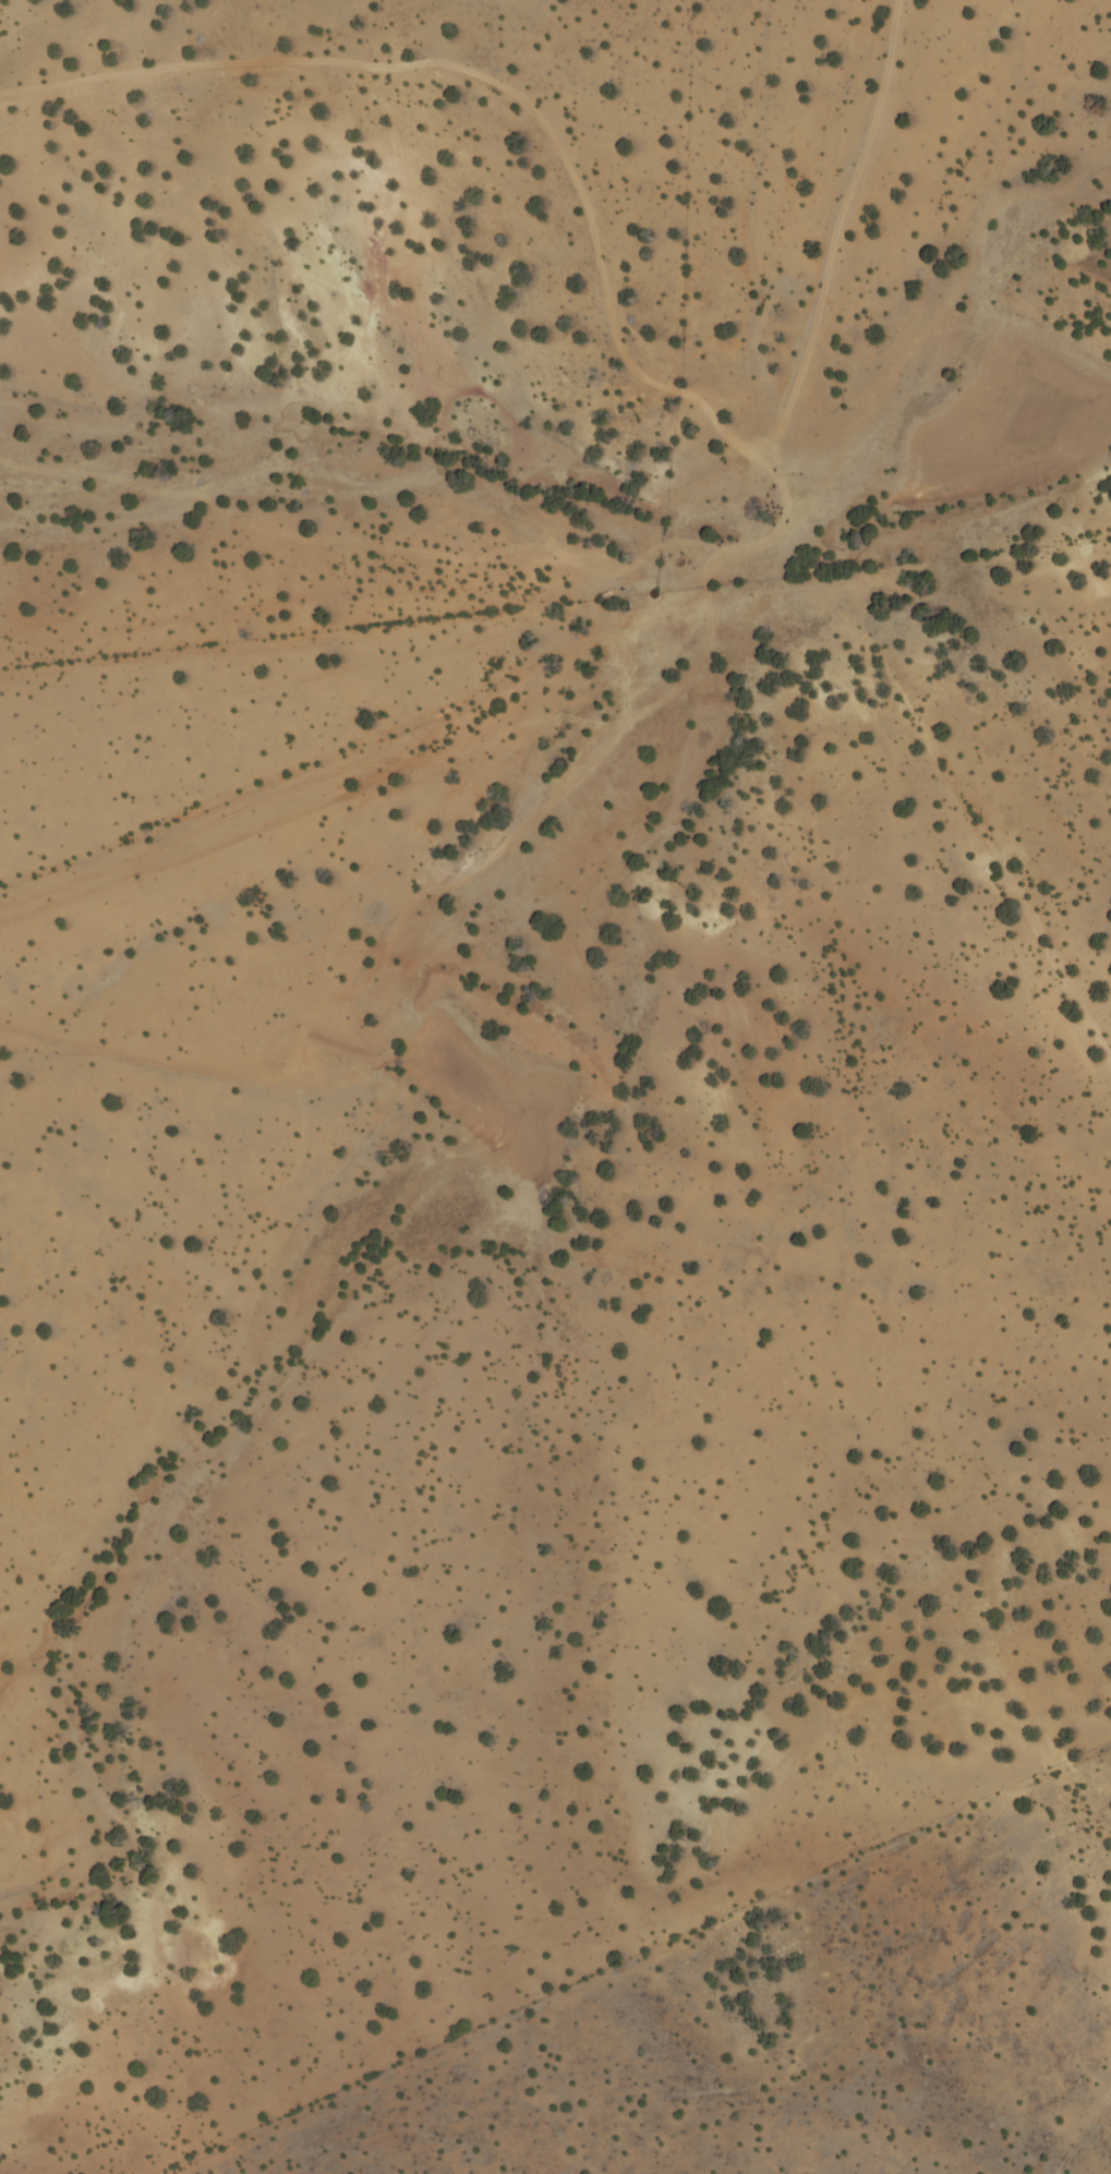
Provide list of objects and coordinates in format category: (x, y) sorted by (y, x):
road: (627, 615)
road: (624, 1960)

